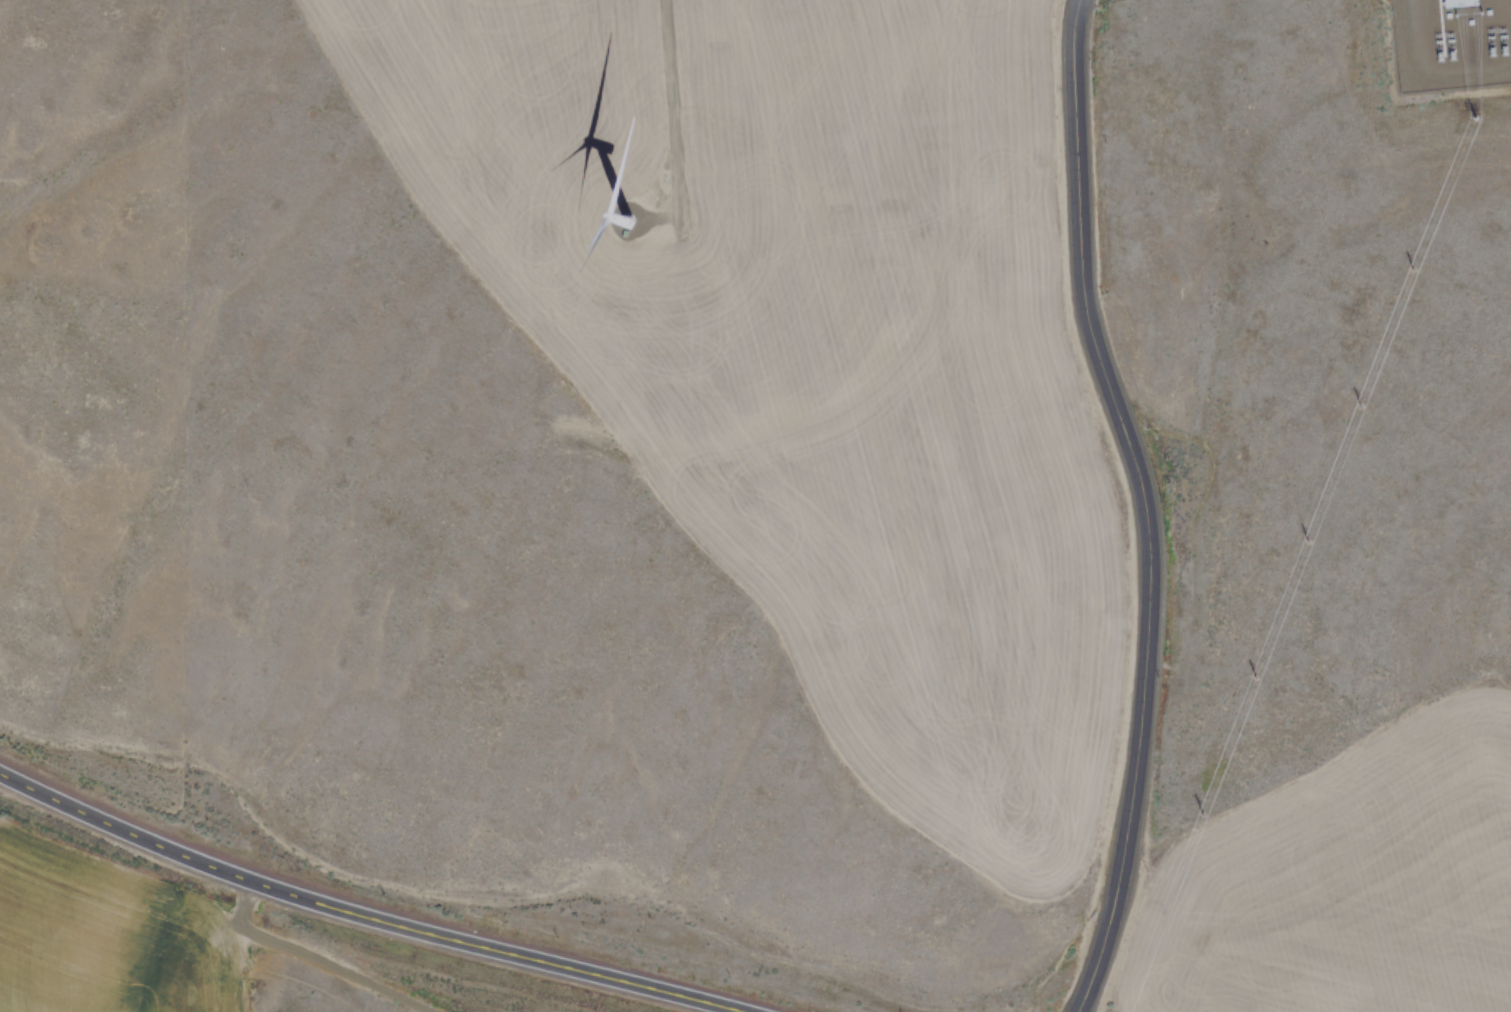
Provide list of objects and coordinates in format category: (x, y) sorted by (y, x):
power substation: (1450, 45)
power tower: (1472, 127)
wind turbine: (620, 209)
power tower: (1409, 279)
power tower: (1360, 414)
road: (1146, 505)
power tower: (1306, 550)
power tower: (1254, 684)
power tower: (1198, 823)
road: (374, 912)

